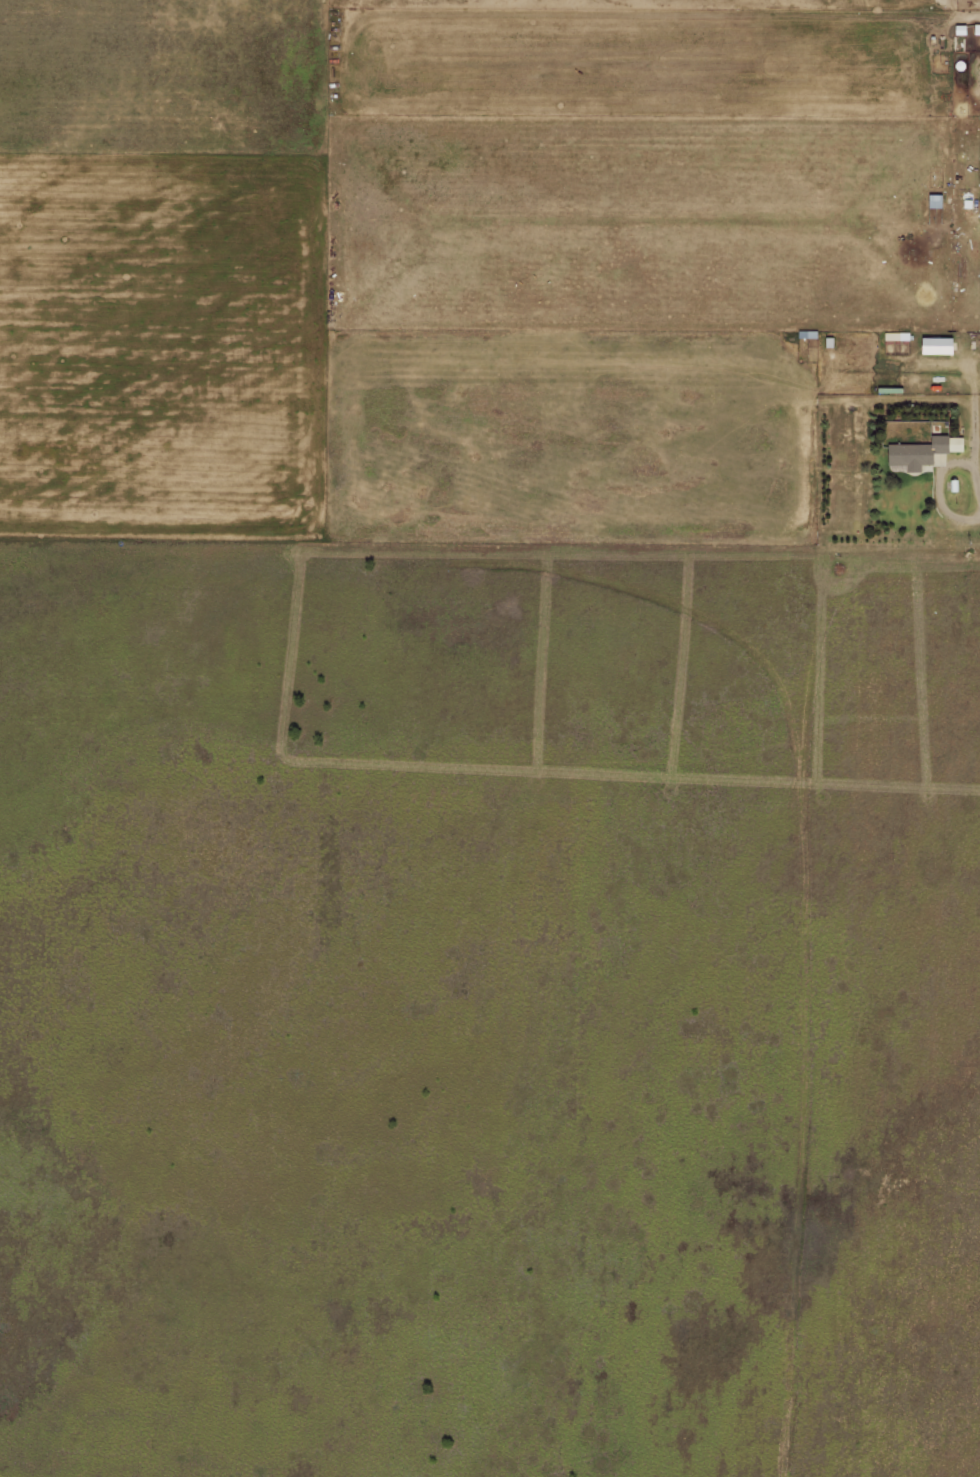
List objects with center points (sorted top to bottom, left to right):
building: (932, 201)
building: (977, 208)
building: (891, 336)
building: (933, 345)
building: (920, 451)

